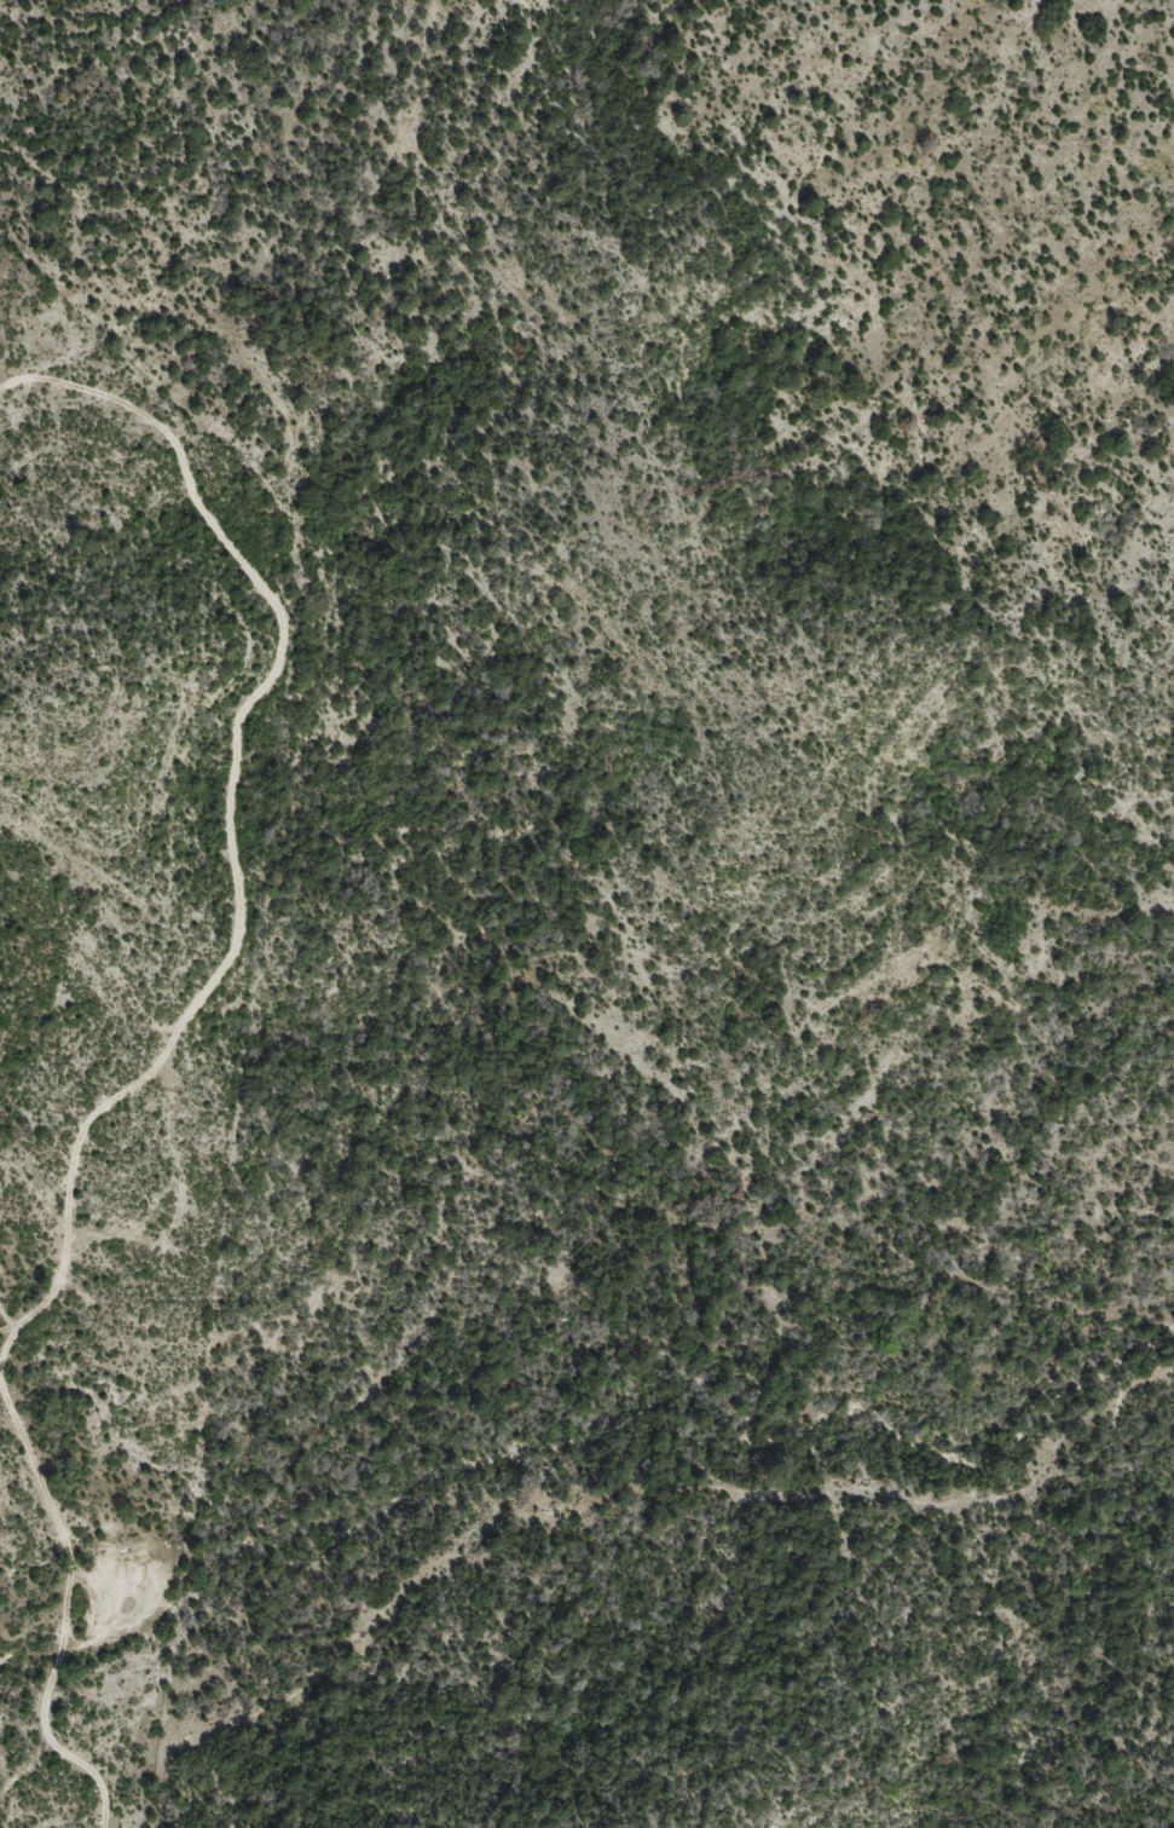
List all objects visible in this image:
road: (164, 1084)

